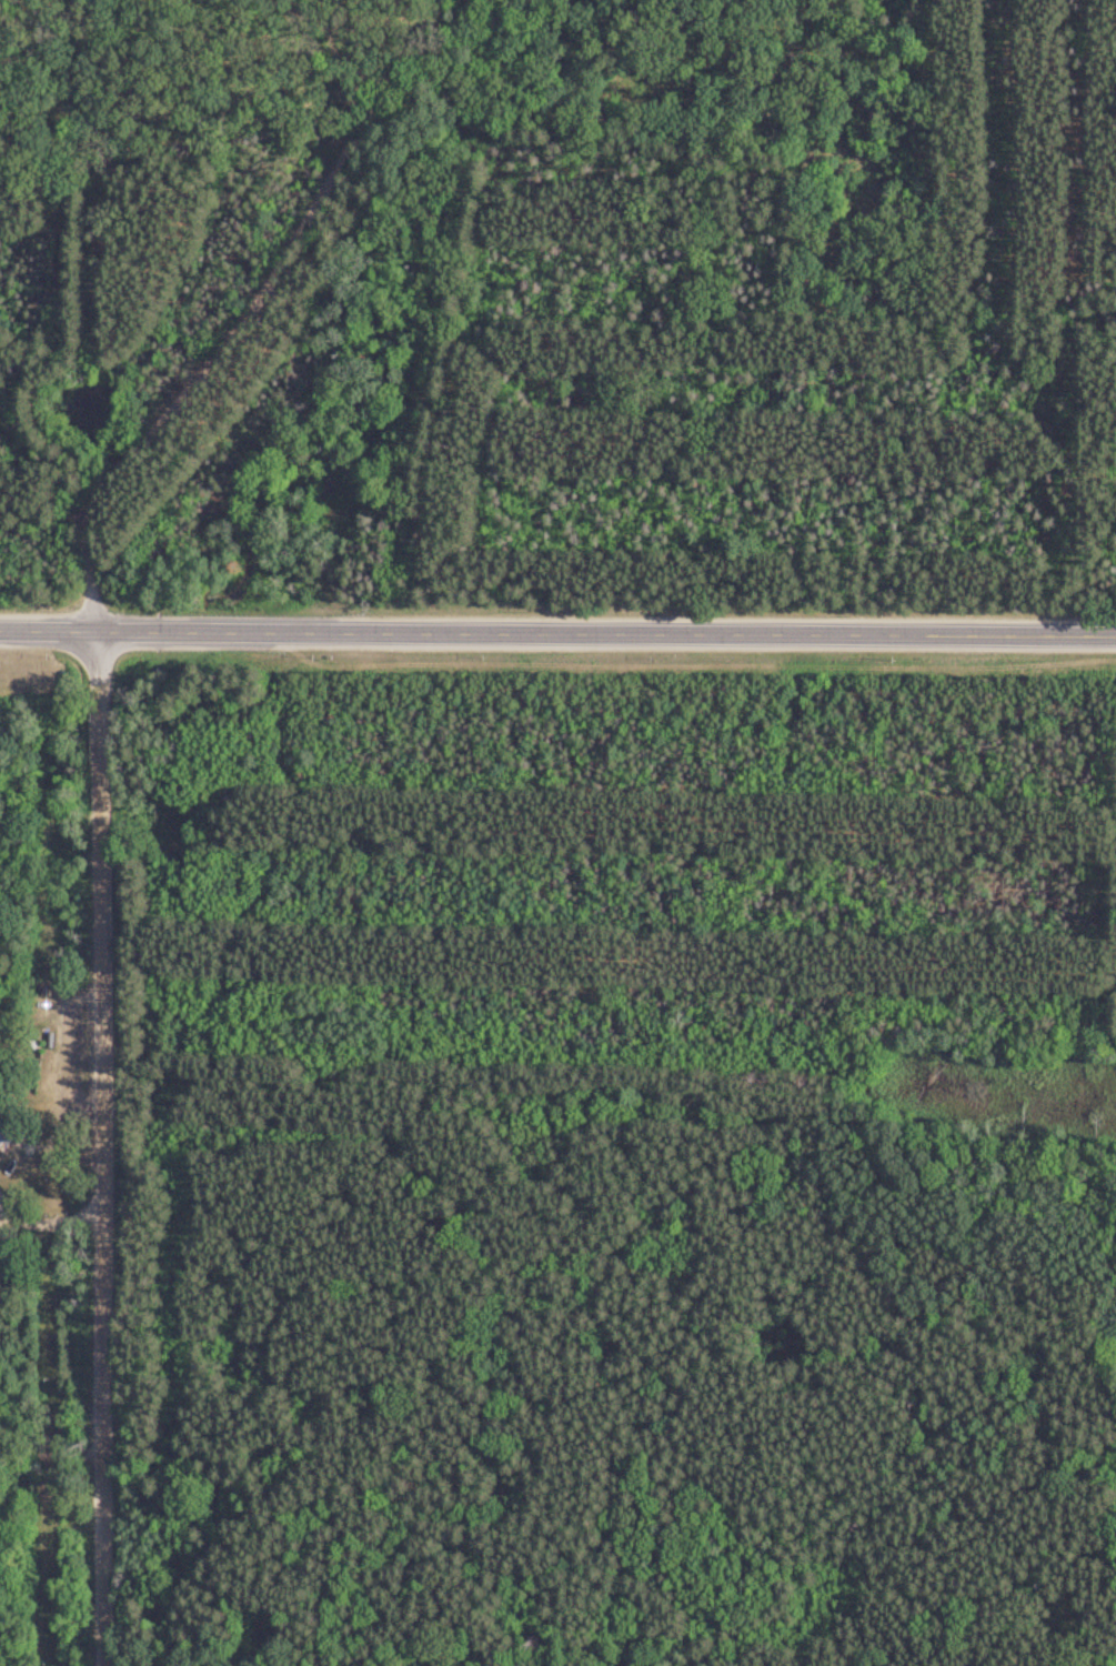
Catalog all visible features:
road: (241, 322)
road: (43, 632)
road: (153, 633)
road: (667, 635)
road: (88, 693)
building: (3, 1135)
road: (89, 1210)

